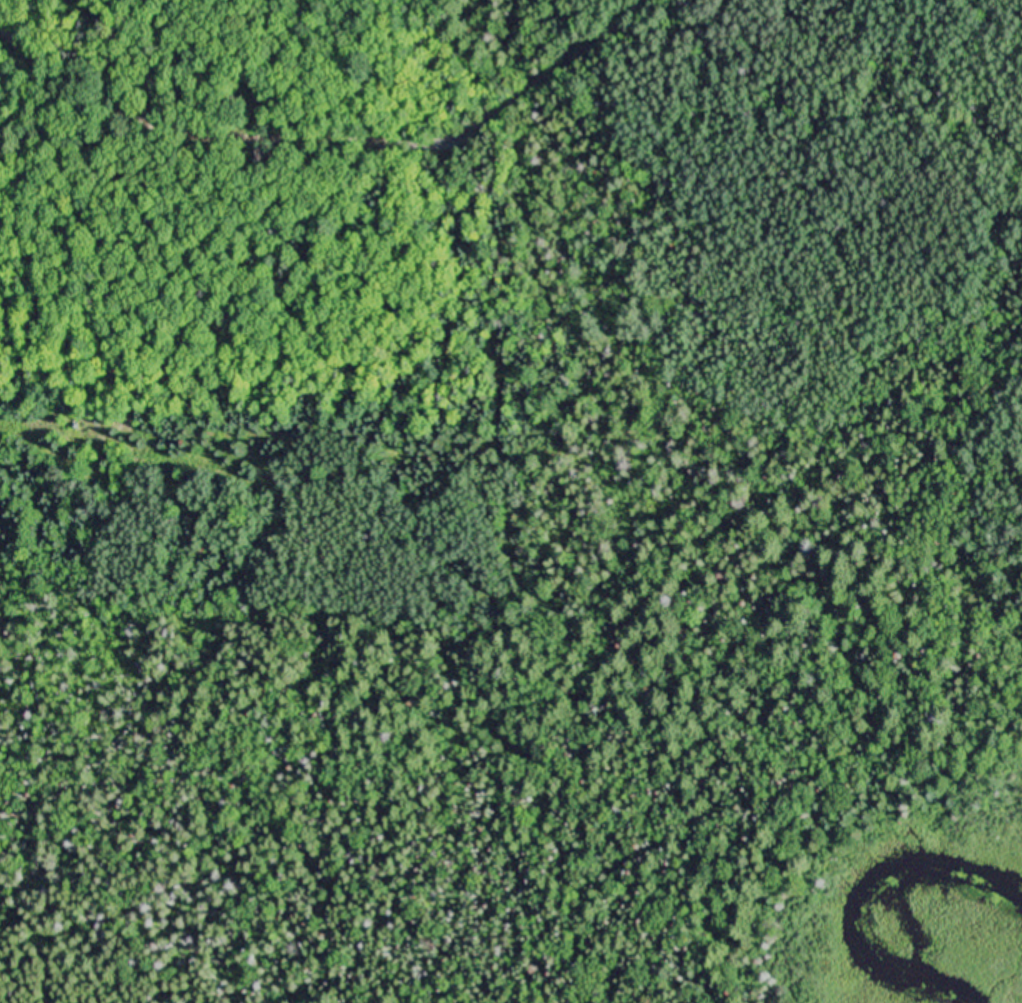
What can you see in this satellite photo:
road: (327, 155)

